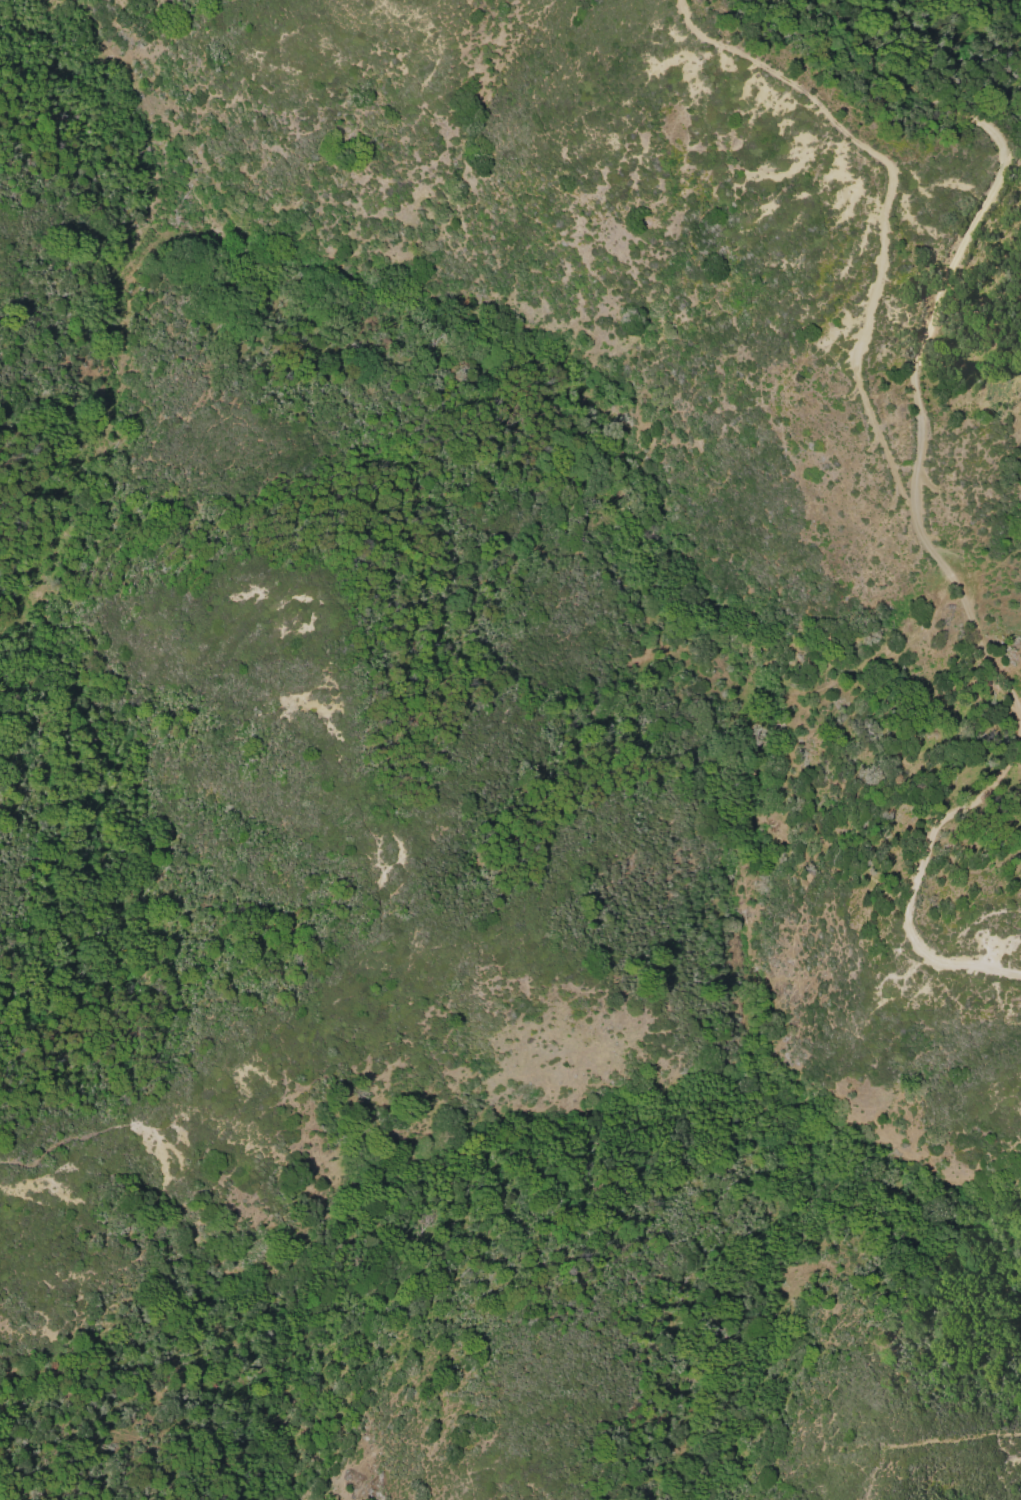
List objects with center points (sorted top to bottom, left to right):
road: (983, 223)
road: (910, 507)
road: (990, 572)

